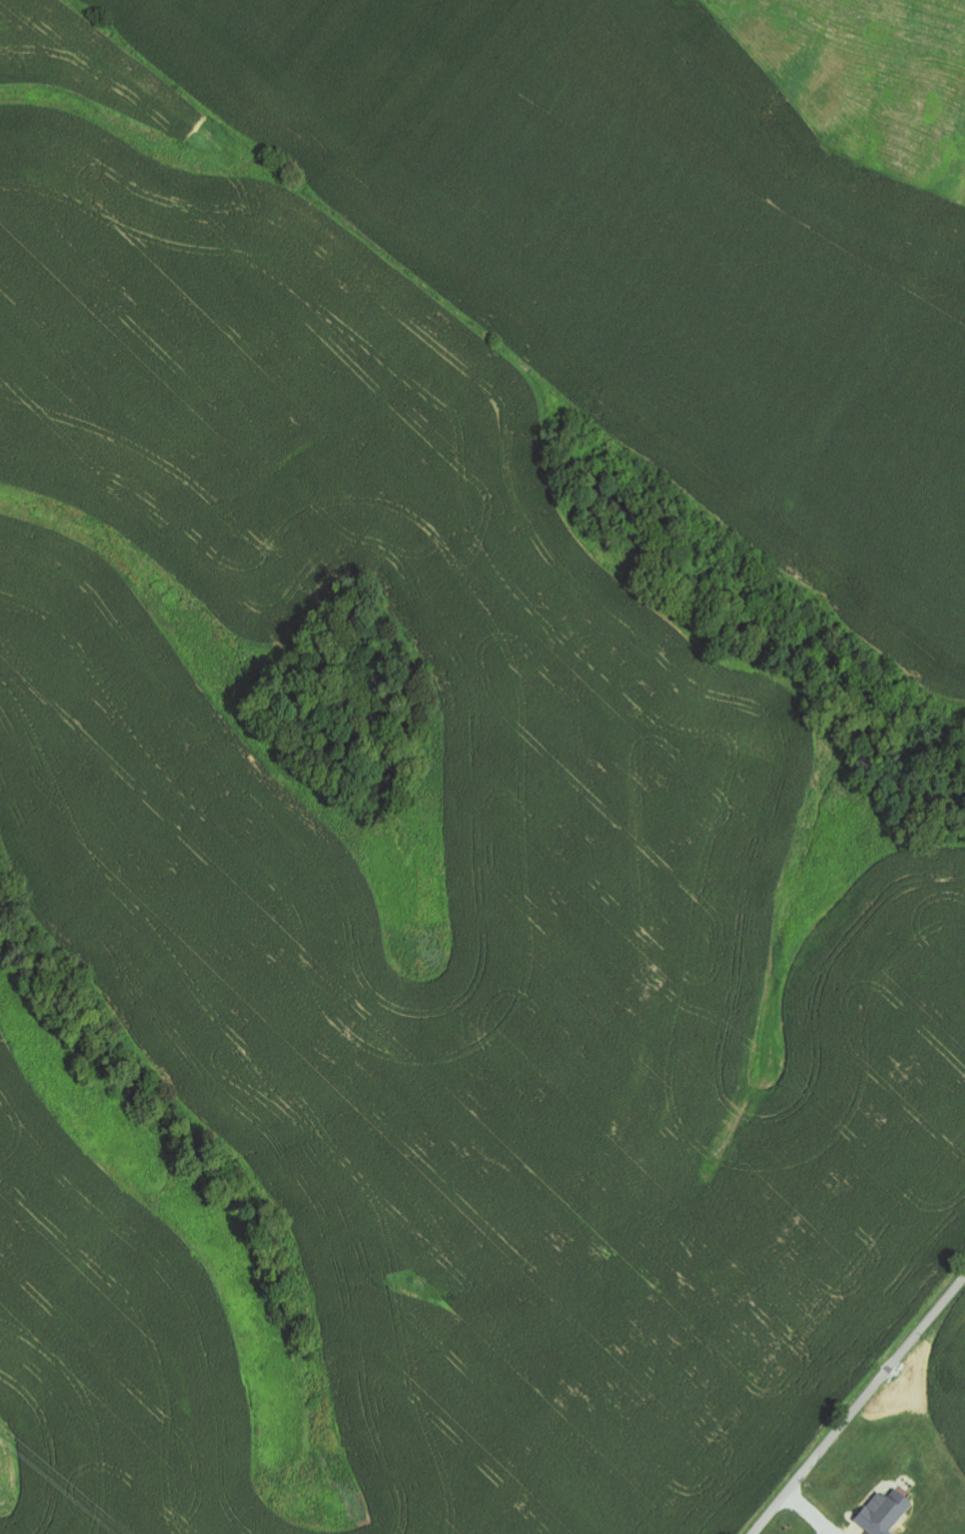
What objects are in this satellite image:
road: (859, 1404)
building: (887, 1512)

